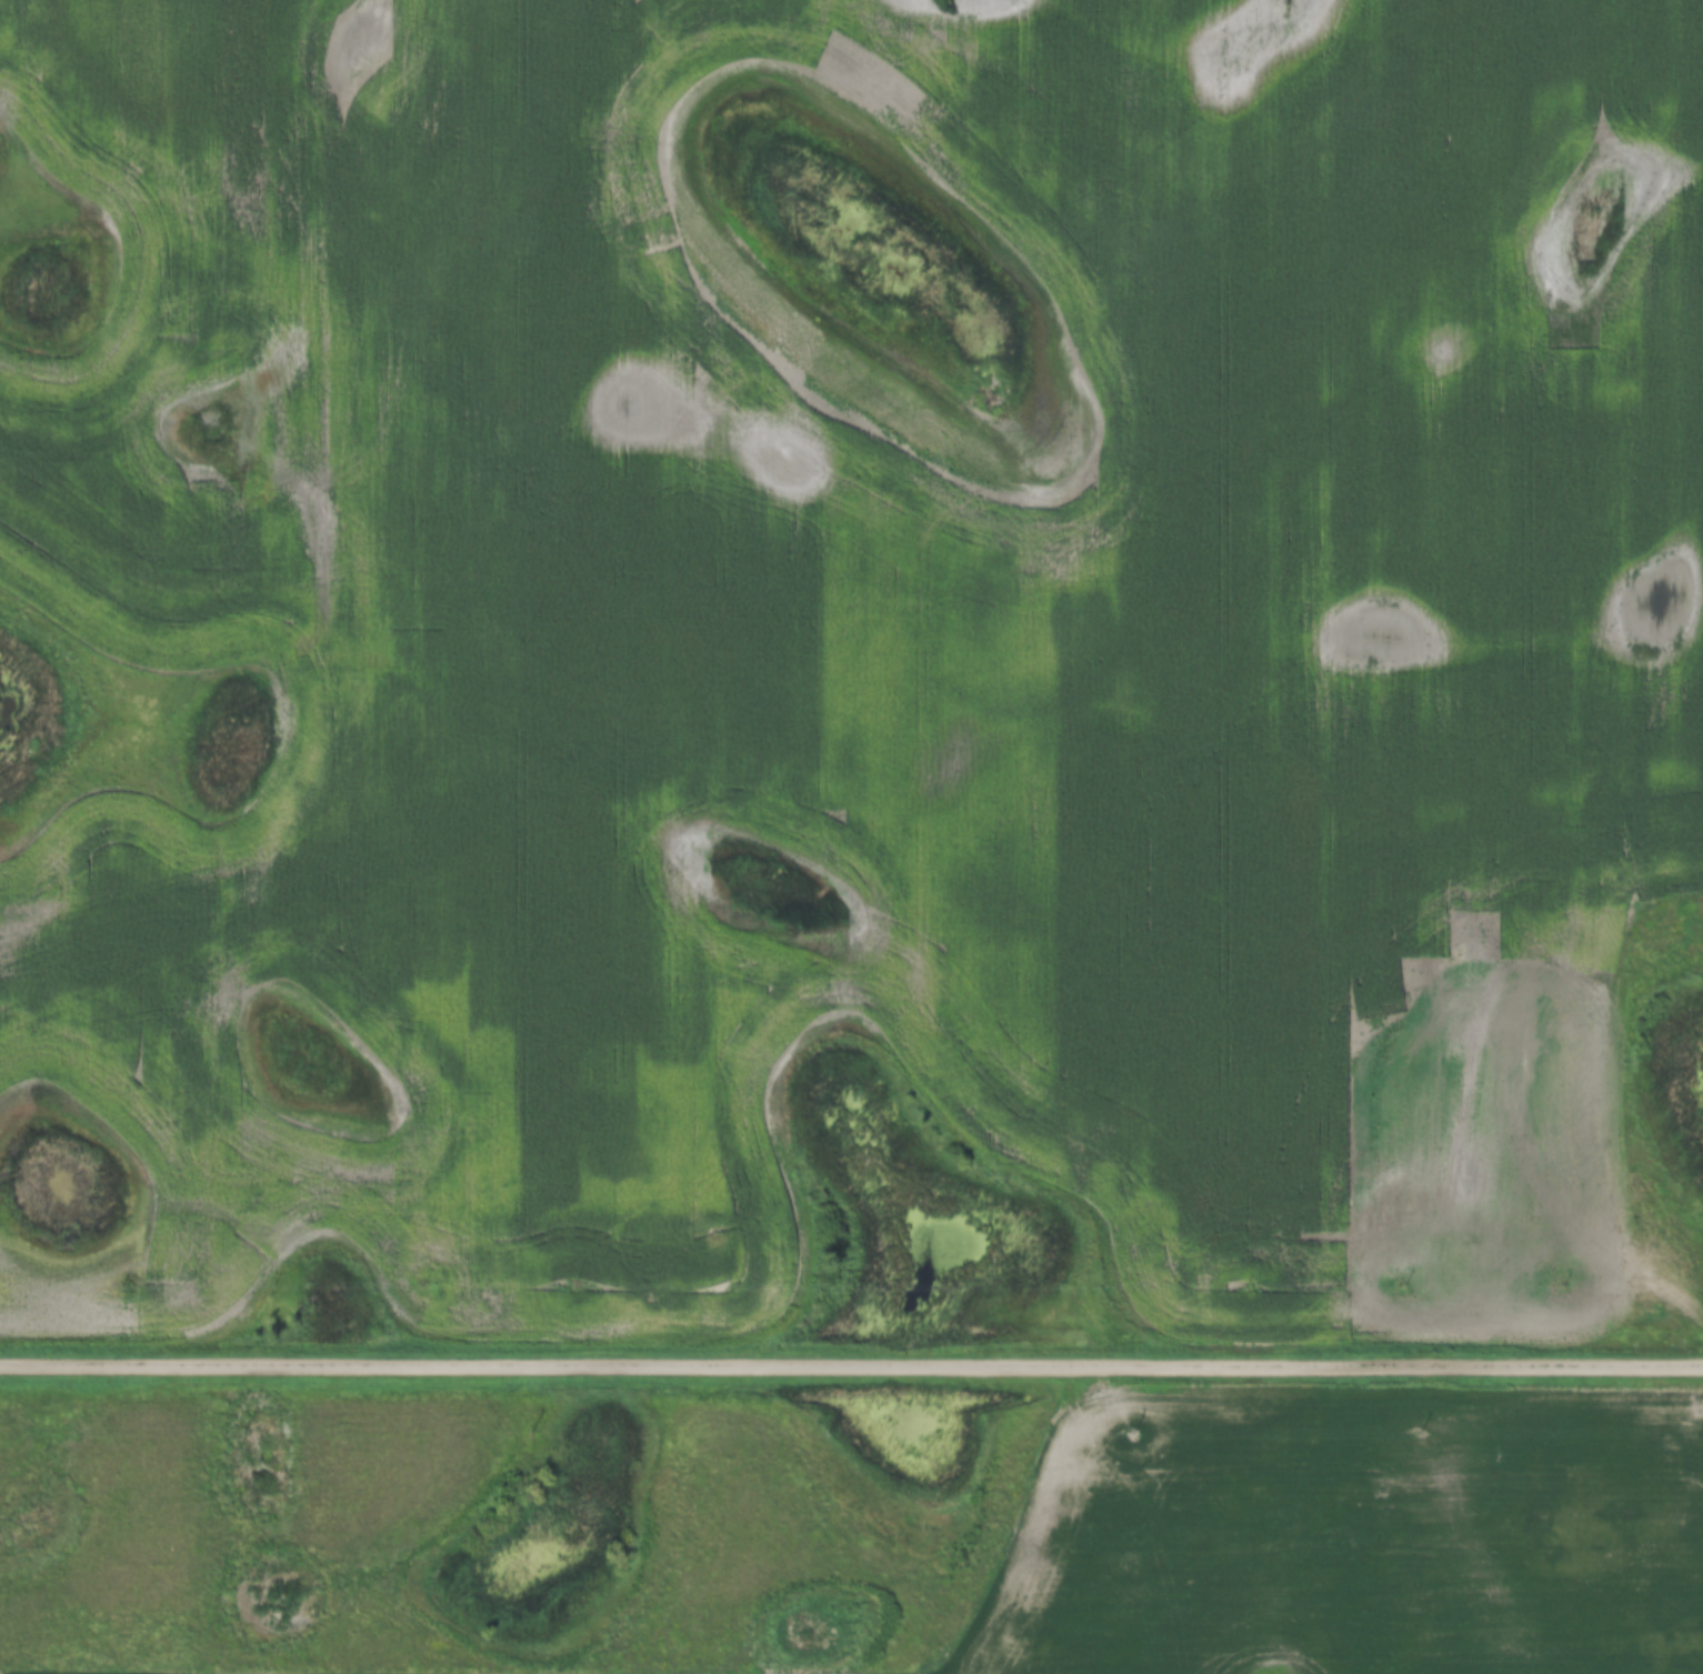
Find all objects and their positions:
road: (851, 1370)

